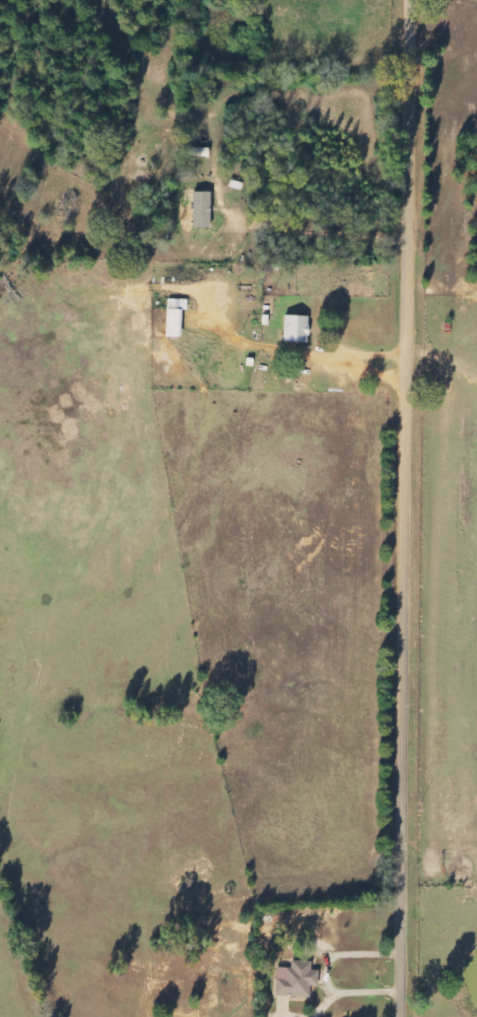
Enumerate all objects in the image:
building: (200, 209)
building: (174, 317)
building: (295, 329)
road: (413, 508)
road: (322, 971)
building: (295, 980)

